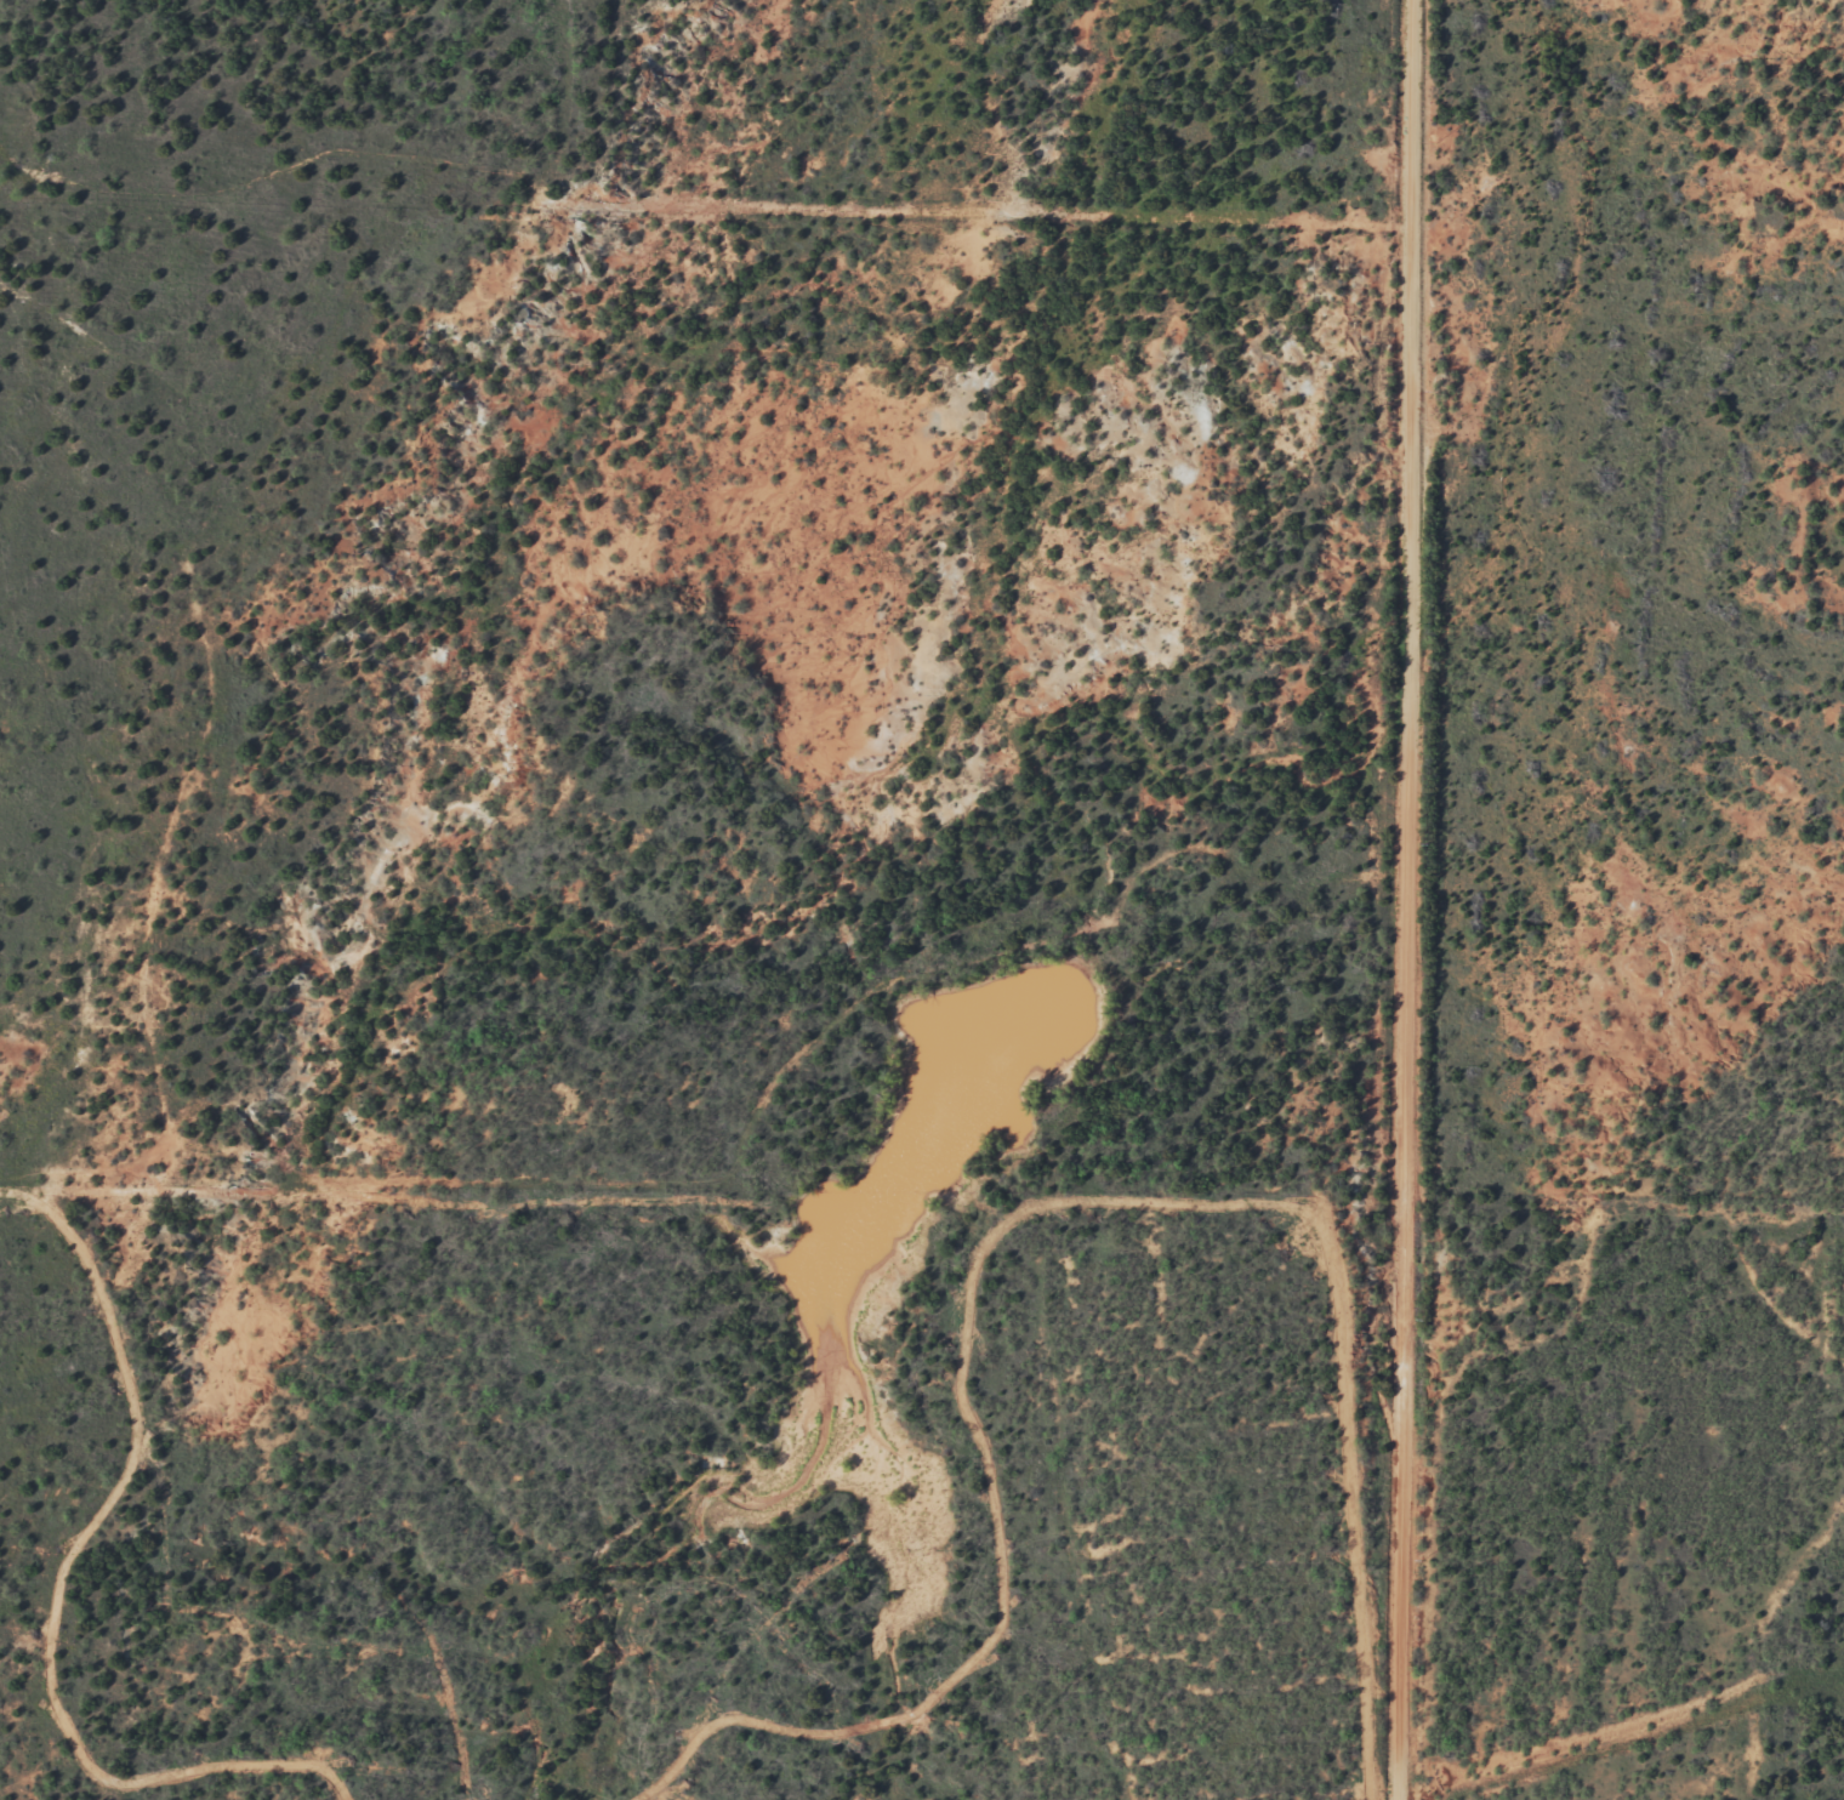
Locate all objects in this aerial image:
road: (173, 506)
road: (61, 531)
road: (1412, 900)

